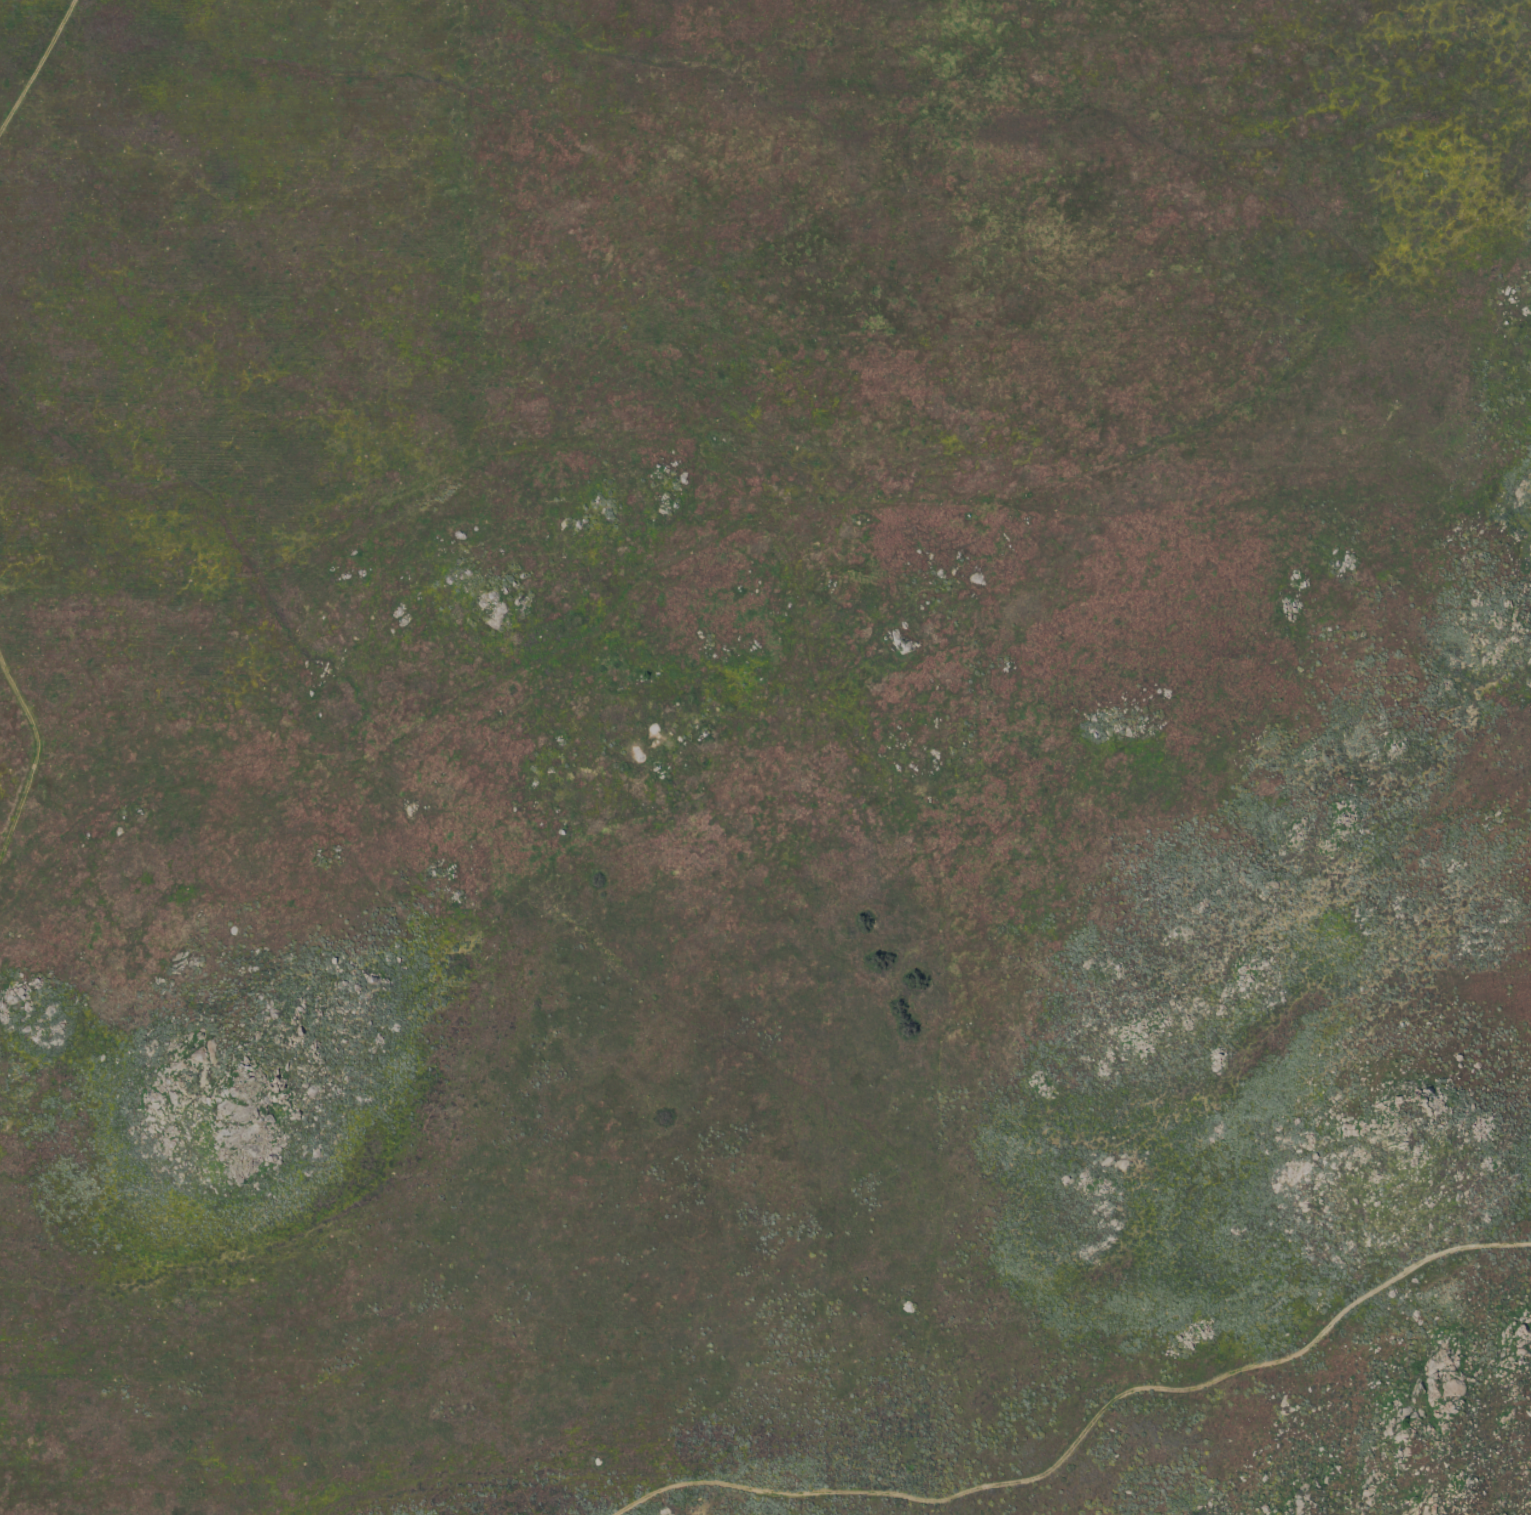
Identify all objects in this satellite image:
road: (39, 67)
road: (35, 754)
road: (1084, 1429)

